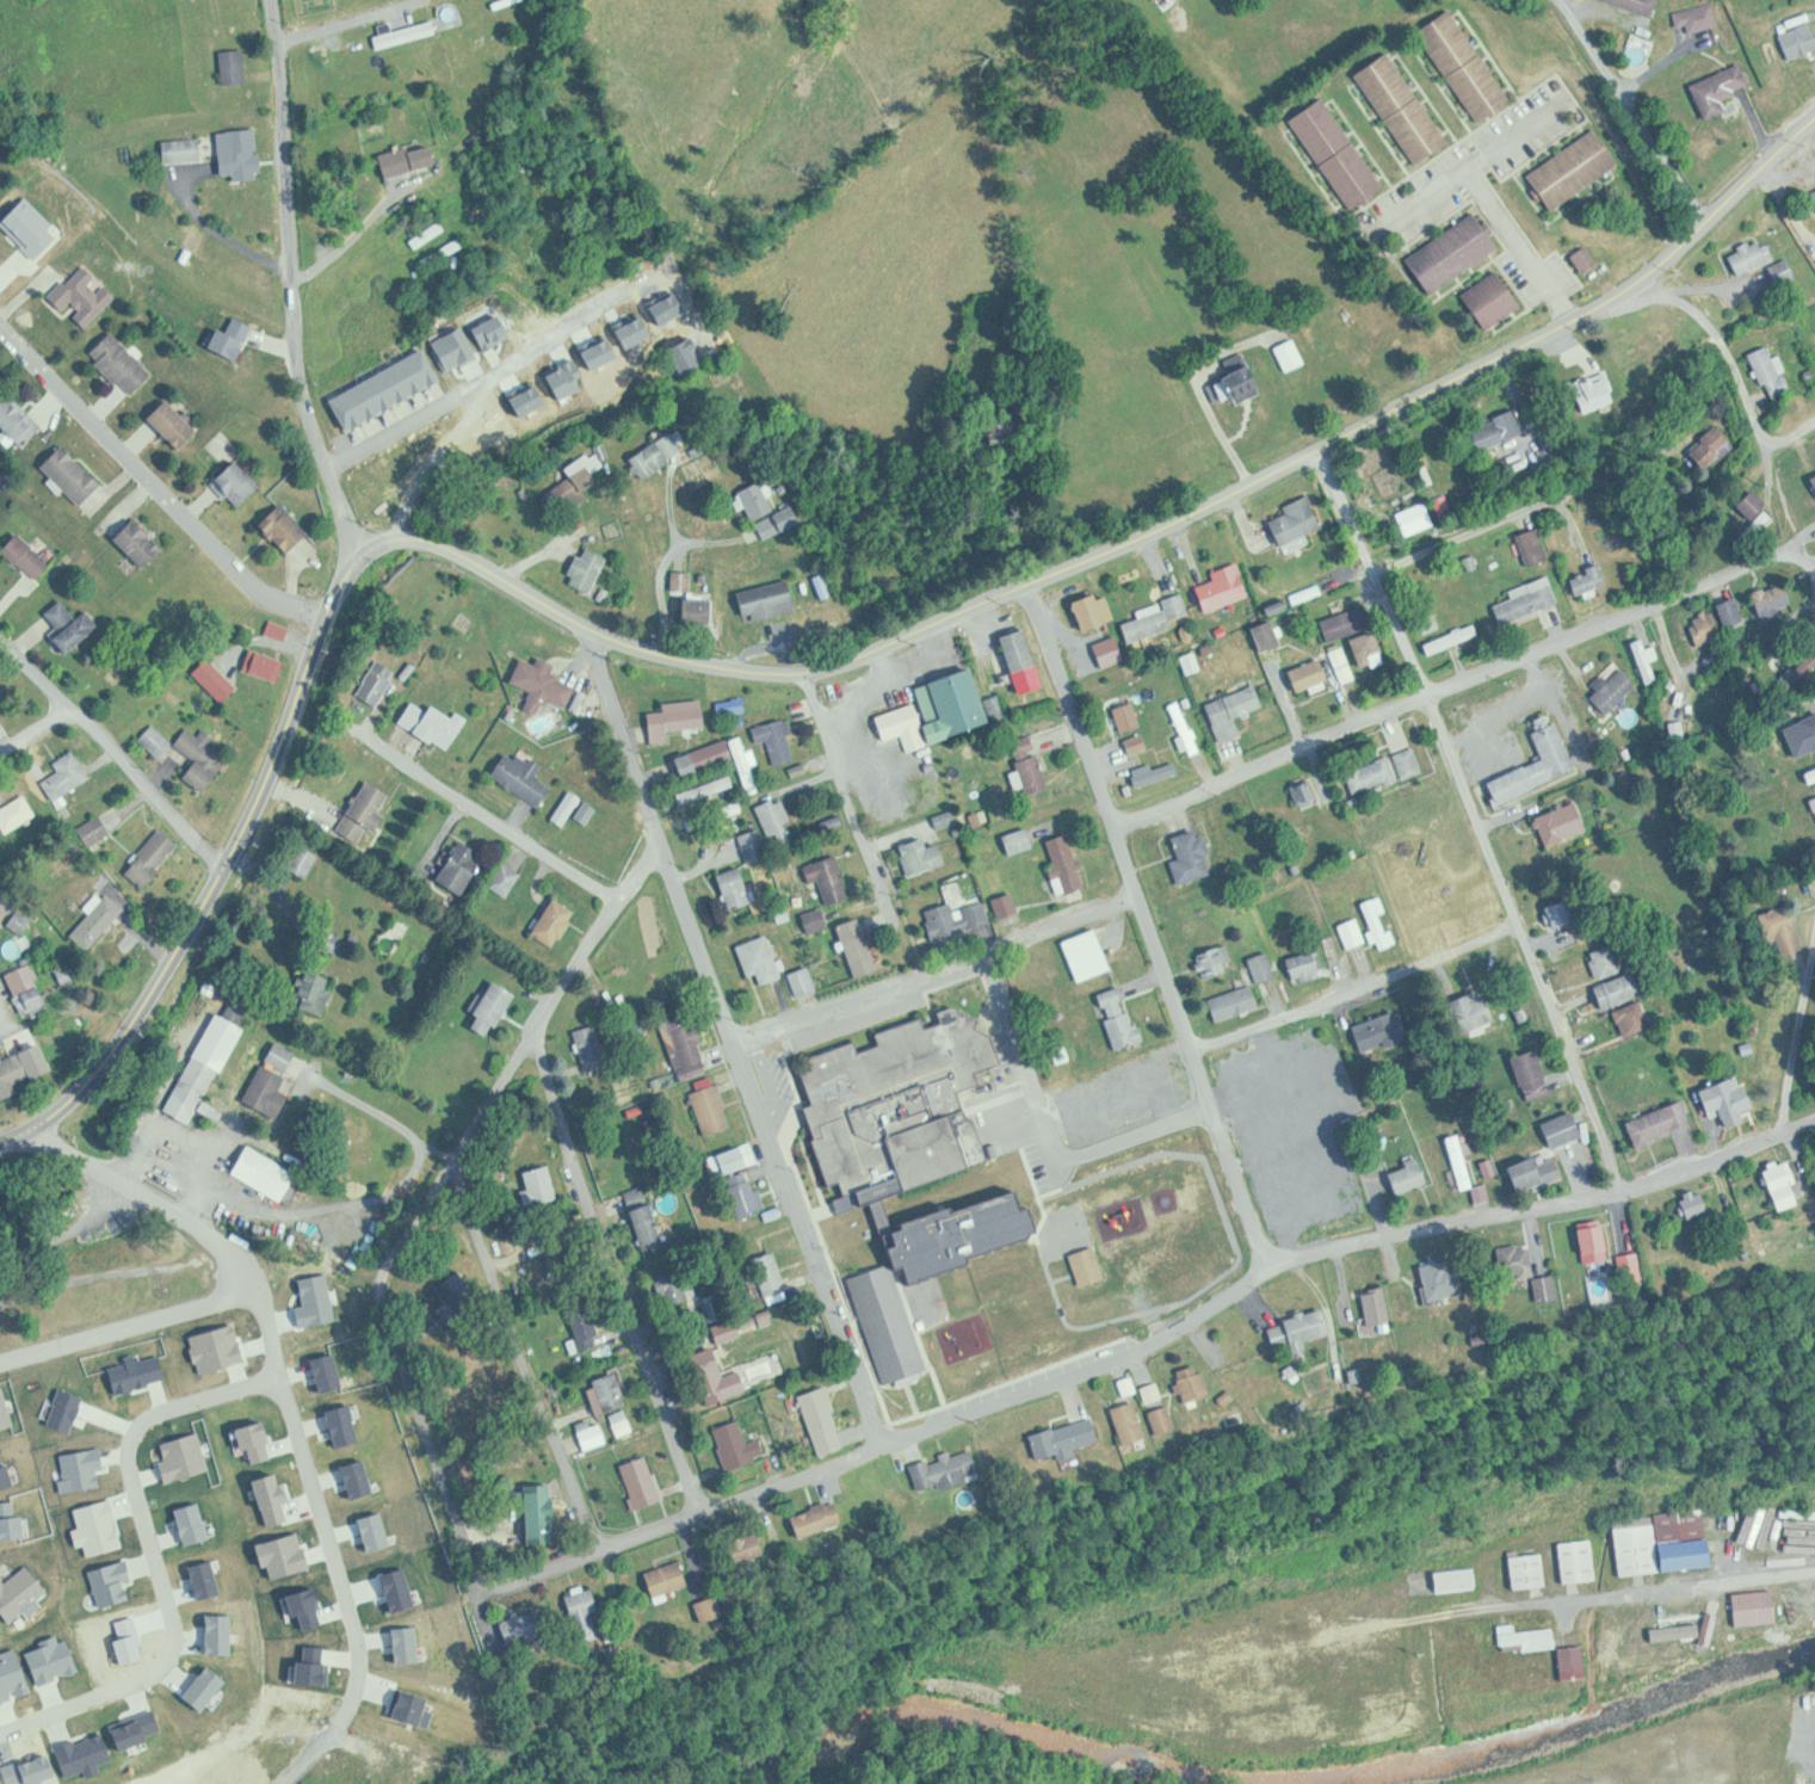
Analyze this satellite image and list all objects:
building: (1642, 5)
building: (1698, 16)
building: (1801, 41)
building: (1467, 66)
building: (235, 67)
building: (1723, 92)
building: (1405, 107)
road: (1641, 111)
building: (185, 150)
building: (1340, 154)
building: (245, 155)
building: (406, 161)
building: (1575, 169)
building: (0, 183)
building: (1814, 192)
building: (446, 252)
building: (1456, 252)
building: (1754, 257)
building: (1587, 259)
building: (1785, 271)
road: (294, 282)
building: (86, 296)
building: (1495, 300)
road: (1584, 309)
building: (233, 339)
road: (1655, 345)
building: (1292, 353)
road: (1708, 359)
building: (123, 363)
road: (495, 371)
building: (1772, 371)
building: (1240, 381)
building: (19, 420)
building: (166, 424)
building: (1500, 428)
road: (1790, 431)
building: (1711, 446)
building: (660, 453)
building: (74, 475)
road: (152, 482)
building: (230, 483)
building: (575, 484)
building: (759, 499)
road: (1470, 516)
road: (1172, 517)
building: (1419, 518)
building: (1298, 520)
building: (780, 521)
building: (288, 529)
building: (134, 542)
building: (1535, 545)
building: (29, 556)
road: (663, 564)
building: (582, 569)
road: (1814, 569)
building: (1591, 580)
building: (1226, 587)
building: (760, 598)
building: (1777, 600)
building: (1529, 603)
building: (700, 609)
building: (1097, 610)
building: (1156, 618)
building: (1348, 622)
building: (72, 625)
building: (1270, 635)
building: (1457, 638)
road: (1673, 648)
building: (1371, 649)
road: (747, 654)
building: (1647, 659)
building: (1025, 660)
road: (685, 661)
building: (267, 663)
building: (1344, 663)
building: (1313, 674)
building: (218, 679)
road: (1463, 680)
building: (378, 681)
building: (536, 684)
building: (1616, 690)
building: (734, 705)
building: (939, 711)
building: (1229, 711)
building: (1130, 716)
building: (1, 717)
building: (678, 718)
building: (428, 723)
road: (35, 729)
building: (1798, 733)
road: (1085, 736)
building: (159, 740)
building: (779, 740)
building: (1138, 742)
road: (115, 749)
building: (204, 758)
building: (730, 759)
building: (1409, 761)
building: (1031, 765)
building: (1538, 765)
building: (1156, 772)
building: (61, 774)
building: (1372, 774)
building: (1811, 776)
building: (518, 777)
road: (847, 785)
building: (1305, 791)
building: (1814, 800)
building: (364, 807)
building: (568, 807)
building: (13, 813)
building: (777, 816)
road: (1474, 816)
building: (1556, 823)
road: (504, 825)
building: (98, 828)
road: (658, 837)
building: (1021, 840)
building: (754, 845)
building: (1186, 856)
building: (918, 857)
building: (147, 858)
building: (305, 859)
building: (1068, 865)
building: (463, 866)
building: (996, 868)
road: (218, 877)
building: (507, 877)
building: (832, 877)
building: (737, 887)
building: (7, 903)
building: (1008, 903)
building: (1564, 914)
building: (819, 919)
building: (959, 919)
building: (1381, 920)
building: (93, 921)
building: (548, 922)
building: (1784, 930)
building: (1354, 932)
building: (860, 945)
building: (1089, 953)
building: (755, 959)
building: (1217, 961)
building: (1606, 961)
building: (1264, 965)
building: (1308, 965)
road: (937, 970)
building: (805, 981)
road: (1356, 986)
building: (30, 988)
building: (1620, 989)
building: (317, 992)
building: (1235, 1001)
building: (495, 1008)
building: (1474, 1010)
building: (1122, 1018)
building: (1635, 1018)
parking lot: (852, 1024)
building: (1382, 1032)
road: (1797, 1039)
building: (690, 1045)
building: (594, 1048)
building: (1283, 1053)
building: (284, 1055)
building: (206, 1068)
building: (1533, 1074)
building: (12, 1075)
building: (1246, 1075)
road: (1204, 1076)
building: (1152, 1078)
building: (268, 1088)
building: (1730, 1100)
building: (903, 1101)
parking lot: (1006, 1105)
building: (714, 1109)
building: (1653, 1123)
building: (1564, 1129)
road: (1720, 1155)
building: (735, 1158)
road: (778, 1162)
building: (1467, 1166)
building: (1537, 1171)
building: (267, 1173)
building: (1410, 1177)
building: (1788, 1184)
road: (137, 1185)
building: (542, 1185)
building: (747, 1193)
parking lot: (817, 1196)
road: (379, 1198)
building: (1200, 1198)
road: (427, 1204)
building: (1702, 1205)
building: (647, 1217)
road: (1446, 1226)
road: (74, 1231)
building: (1601, 1241)
building: (1187, 1260)
building: (563, 1261)
building: (1524, 1261)
building: (1088, 1265)
building: (1642, 1266)
road: (613, 1271)
building: (773, 1277)
building: (1438, 1279)
building: (276, 1282)
building: (672, 1286)
building: (1557, 1288)
building: (313, 1301)
building: (721, 1304)
building: (994, 1304)
building: (1383, 1305)
road: (273, 1317)
building: (890, 1321)
road: (128, 1322)
building: (586, 1323)
building: (63, 1327)
building: (1305, 1328)
building: (729, 1329)
building: (212, 1347)
road: (529, 1357)
building: (125, 1363)
road: (853, 1363)
building: (347, 1364)
building: (98, 1366)
road: (1085, 1371)
building: (712, 1375)
building: (11, 1379)
building: (1200, 1382)
building: (610, 1390)
building: (1160, 1391)
building: (10, 1407)
building: (58, 1408)
building: (1173, 1419)
building: (825, 1420)
building: (339, 1421)
building: (624, 1421)
building: (1138, 1422)
building: (594, 1433)
building: (1074, 1438)
building: (249, 1440)
building: (730, 1442)
building: (185, 1455)
building: (215, 1459)
building: (141, 1463)
building: (97, 1464)
building: (74, 1468)
building: (939, 1469)
building: (2, 1476)
building: (354, 1479)
building: (635, 1480)
building: (266, 1496)
building: (245, 1513)
building: (544, 1513)
road: (689, 1513)
building: (24, 1514)
building: (811, 1518)
building: (171, 1519)
building: (186, 1523)
building: (89, 1529)
building: (370, 1530)
building: (1668, 1543)
building: (754, 1550)
building: (278, 1554)
building: (5, 1555)
road: (155, 1558)
building: (1580, 1561)
building: (1531, 1570)
building: (202, 1576)
building: (661, 1576)
building: (1458, 1579)
building: (106, 1582)
building: (394, 1585)
building: (19, 1593)
road: (345, 1595)
building: (301, 1605)
road: (1558, 1606)
building: (165, 1607)
building: (428, 1609)
building: (718, 1609)
building: (271, 1612)
building: (591, 1615)
building: (524, 1629)
building: (61, 1631)
building: (212, 1631)
building: (125, 1638)
building: (1527, 1638)
building: (401, 1642)
building: (424, 1648)
building: (47, 1658)
building: (305, 1666)
building: (8, 1675)
building: (179, 1678)
building: (197, 1686)
building: (416, 1696)
building: (105, 1700)
building: (402, 1705)
building: (135, 1728)
building: (80, 1755)
building: (25, 1770)
building: (442, 1771)
river: (1296, 1782)

